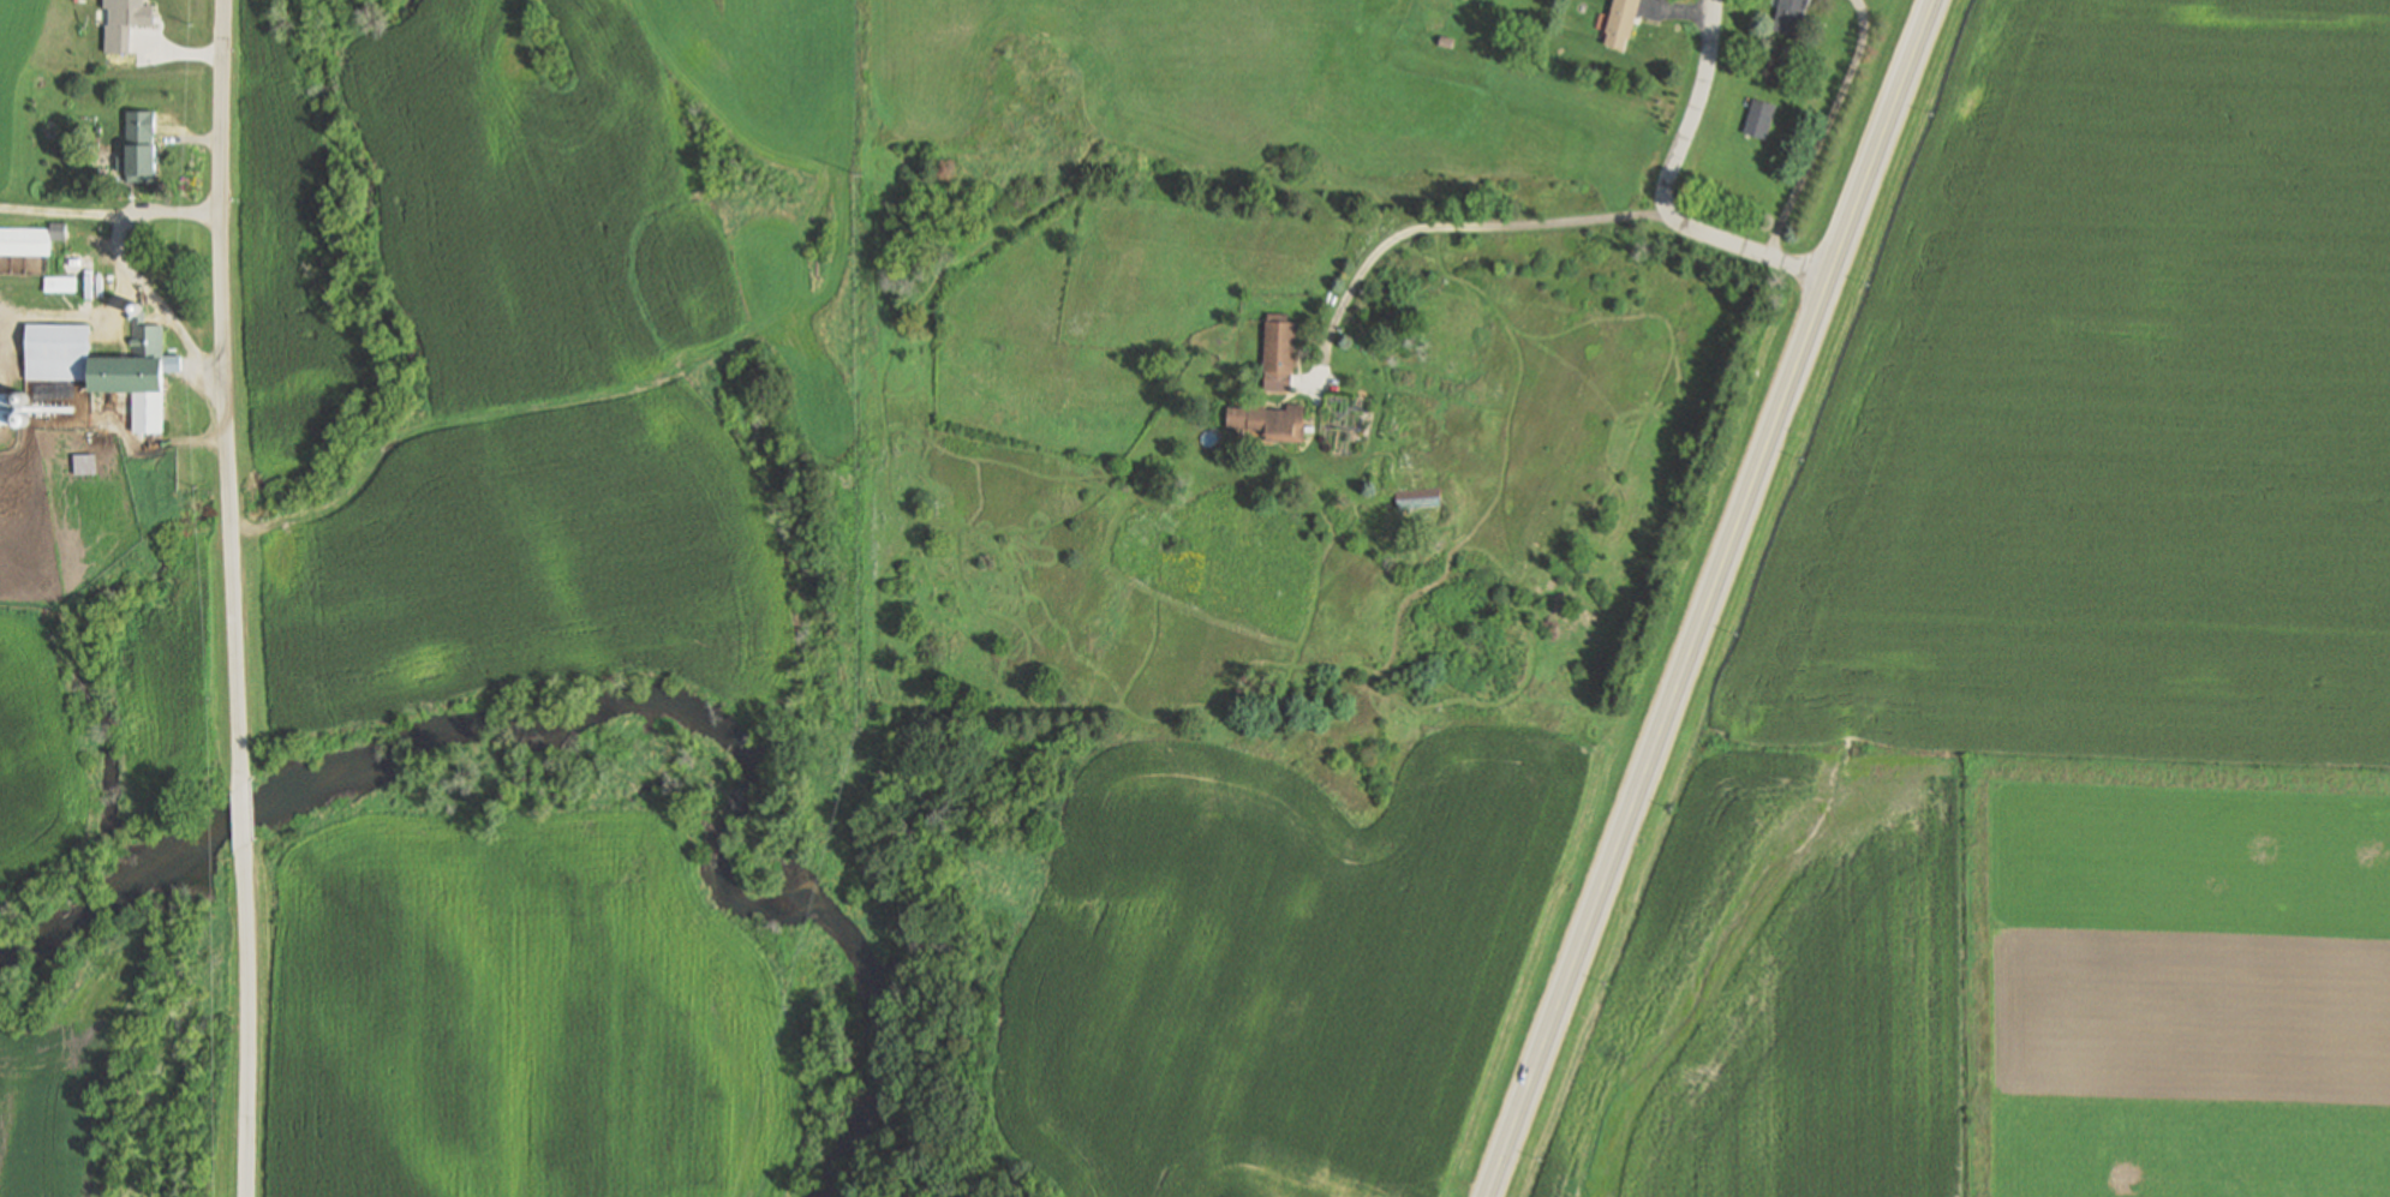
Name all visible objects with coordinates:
building: (1789, 14)
building: (1621, 22)
building: (124, 23)
building: (1446, 40)
road: (184, 50)
crop: (13, 60)
road: (1696, 115)
building: (1759, 116)
road: (1820, 130)
road: (195, 138)
building: (141, 148)
crop: (538, 199)
road: (60, 211)
road: (1537, 225)
building: (30, 238)
crop: (283, 261)
road: (124, 267)
building: (61, 282)
building: (96, 285)
road: (77, 313)
building: (1278, 351)
building: (108, 364)
crop: (2109, 403)
road: (226, 407)
building: (13, 408)
building: (1268, 419)
road: (159, 445)
building: (84, 462)
building: (1421, 495)
crop: (533, 569)
road: (1711, 598)
crop: (167, 677)
river: (628, 708)
crop: (35, 753)
road: (244, 826)
crop: (1272, 968)
crop: (2188, 980)
crop: (1793, 998)
road: (245, 1017)
crop: (519, 1017)
crop: (59, 1084)

